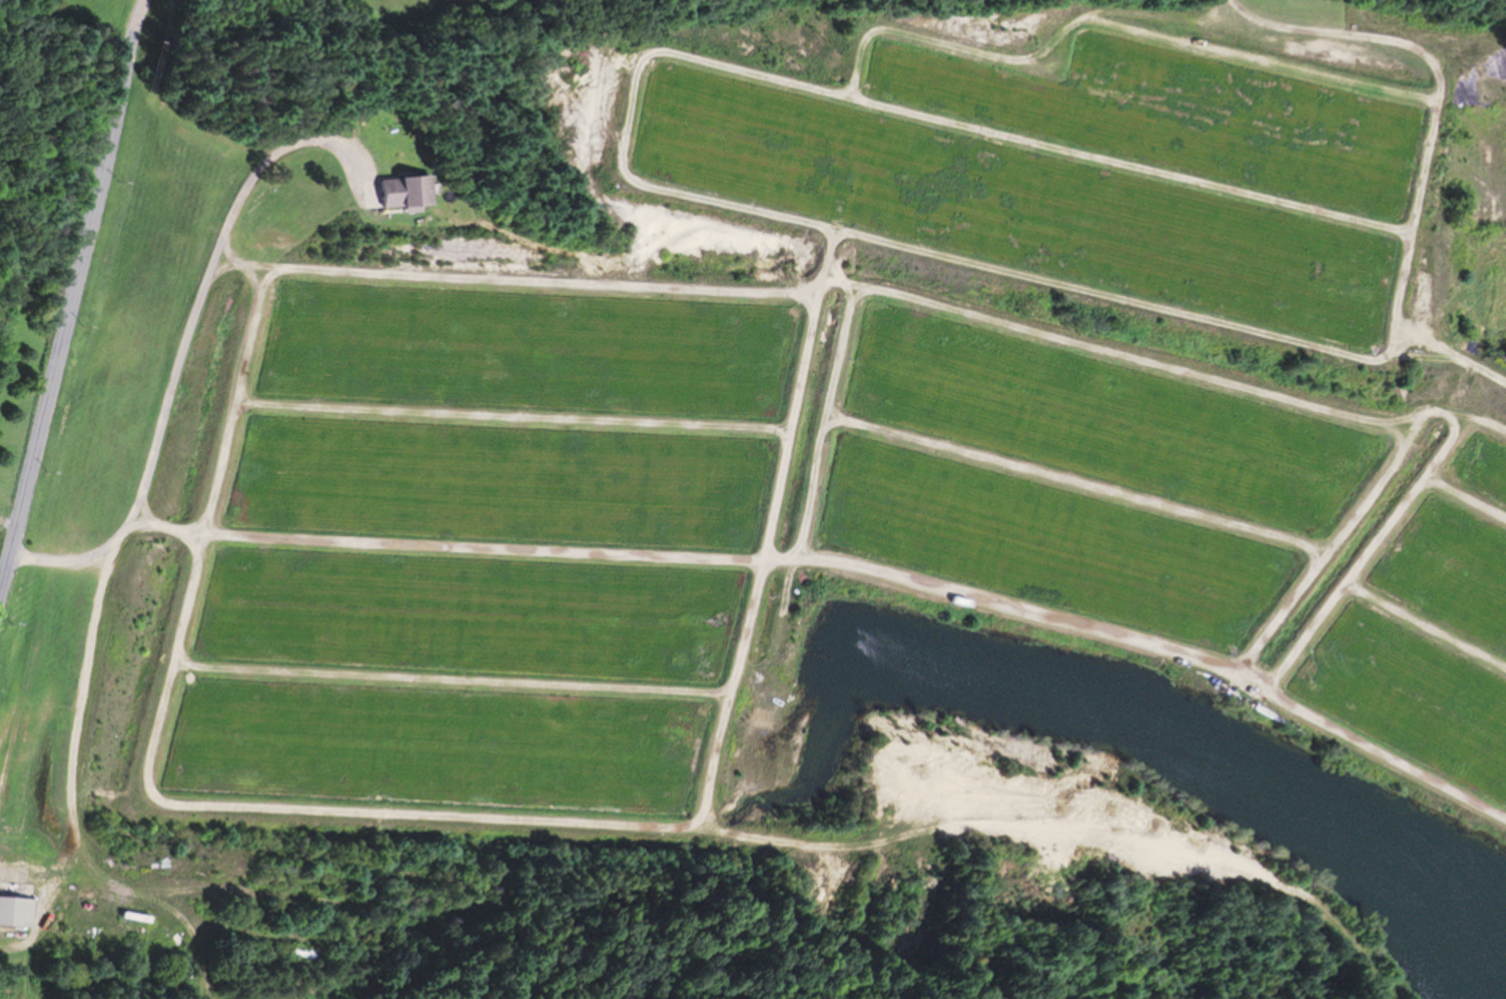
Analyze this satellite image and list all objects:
building: (390, 194)
road: (91, 253)
building: (19, 914)

